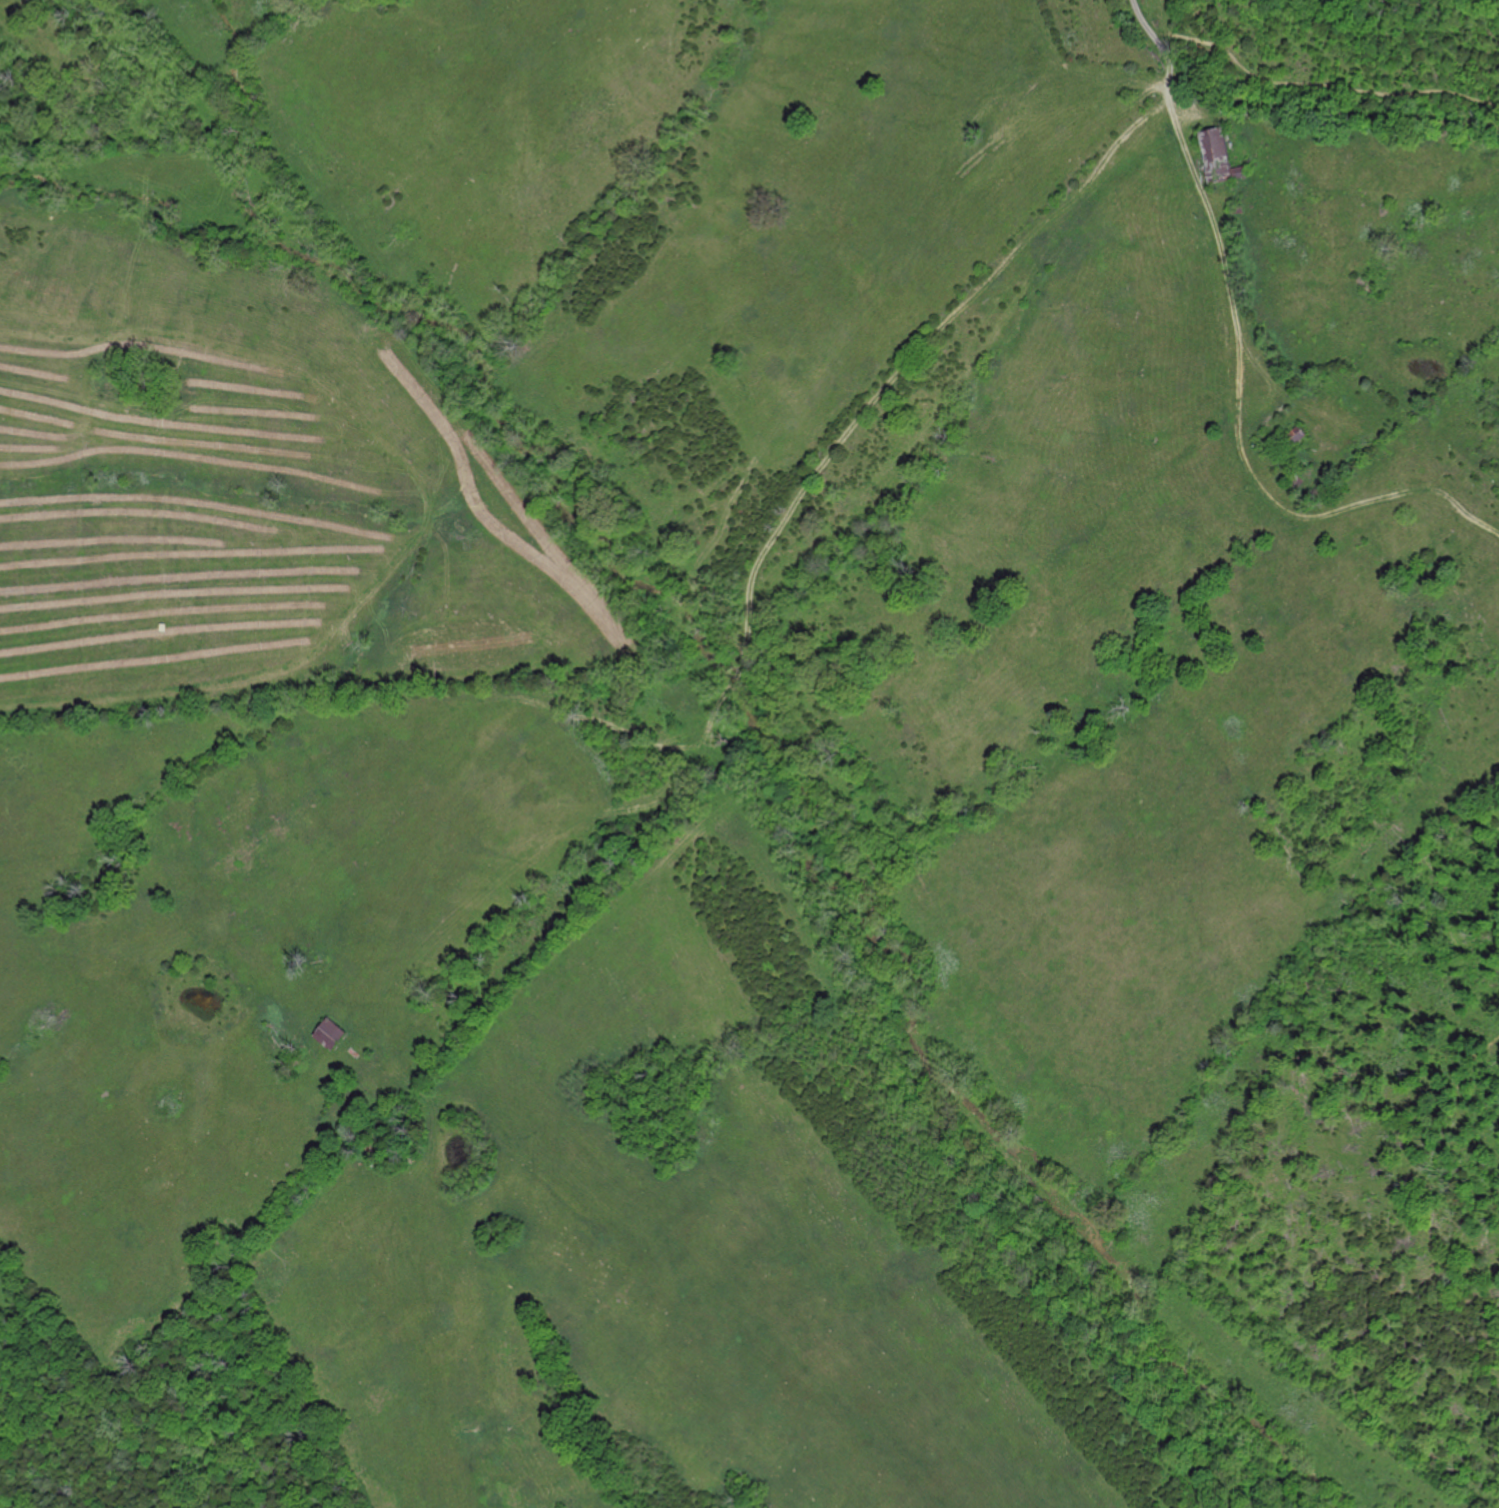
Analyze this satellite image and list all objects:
road: (1136, 2)
road: (1151, 34)
road: (1304, 104)
building: (1218, 158)

